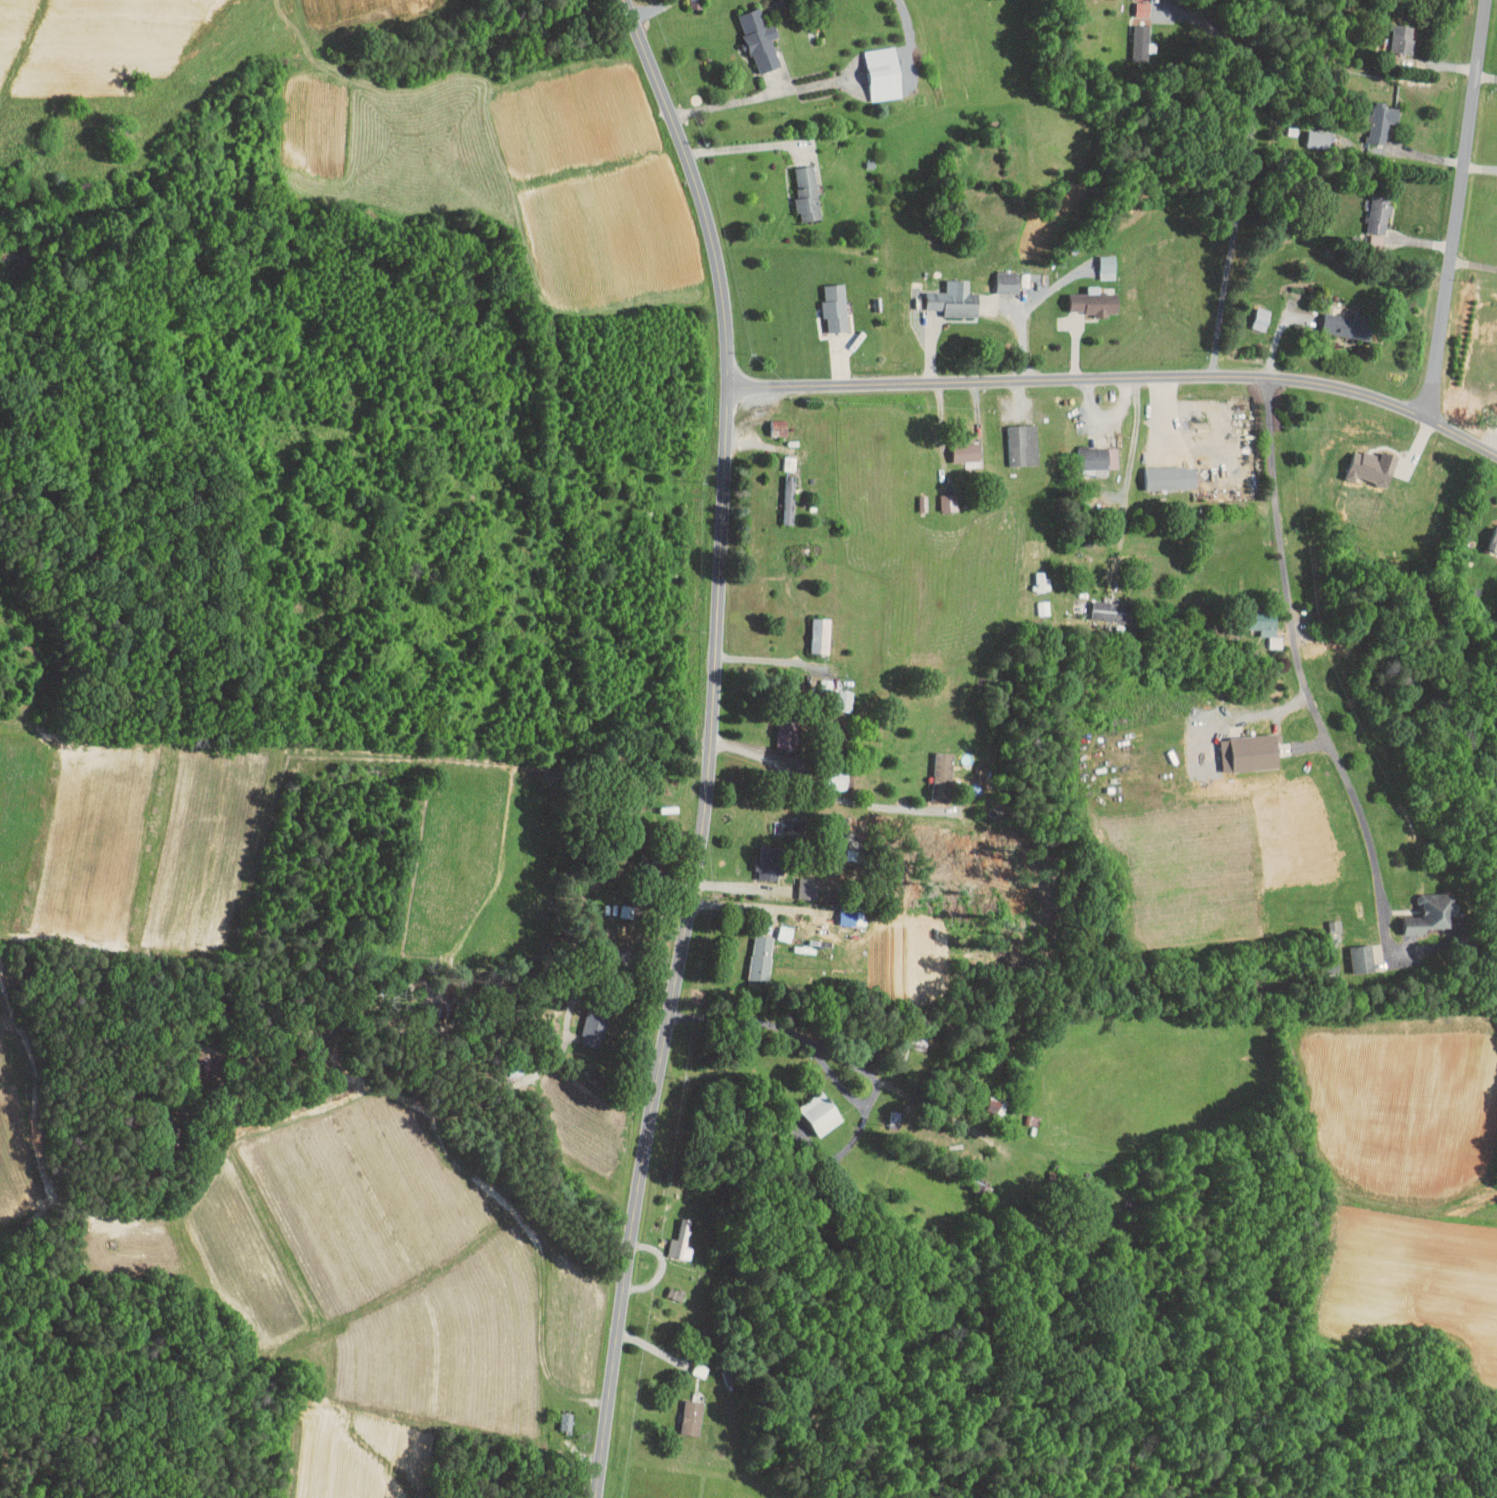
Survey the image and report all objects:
building: (686, 1)
building: (1132, 4)
road: (651, 9)
road: (909, 19)
building: (749, 32)
building: (1389, 32)
building: (1130, 36)
building: (875, 66)
road: (1486, 76)
road: (753, 97)
building: (1372, 116)
building: (1307, 133)
road: (753, 146)
road: (1480, 167)
road: (1244, 172)
building: (797, 186)
building: (1369, 208)
road: (1457, 208)
building: (1098, 256)
road: (1474, 263)
building: (999, 276)
building: (945, 294)
building: (1084, 295)
building: (825, 300)
building: (1251, 312)
building: (1339, 318)
road: (1276, 338)
road: (1119, 377)
building: (768, 421)
road: (1122, 433)
building: (1011, 438)
road: (753, 443)
building: (957, 445)
building: (1087, 451)
building: (1361, 460)
building: (1161, 470)
building: (778, 493)
building: (913, 496)
building: (939, 496)
building: (1488, 531)
building: (1032, 574)
building: (1033, 601)
building: (1102, 604)
building: (811, 628)
building: (1260, 630)
road: (1295, 647)
road: (781, 660)
building: (778, 728)
road: (710, 744)
building: (1241, 746)
building: (933, 770)
road: (817, 787)
building: (759, 863)
building: (798, 881)
road: (757, 905)
building: (1422, 907)
building: (839, 911)
building: (752, 951)
building: (1352, 952)
road: (622, 977)
building: (585, 1022)
road: (783, 1025)
building: (671, 1235)
building: (683, 1411)
building: (555, 1415)

